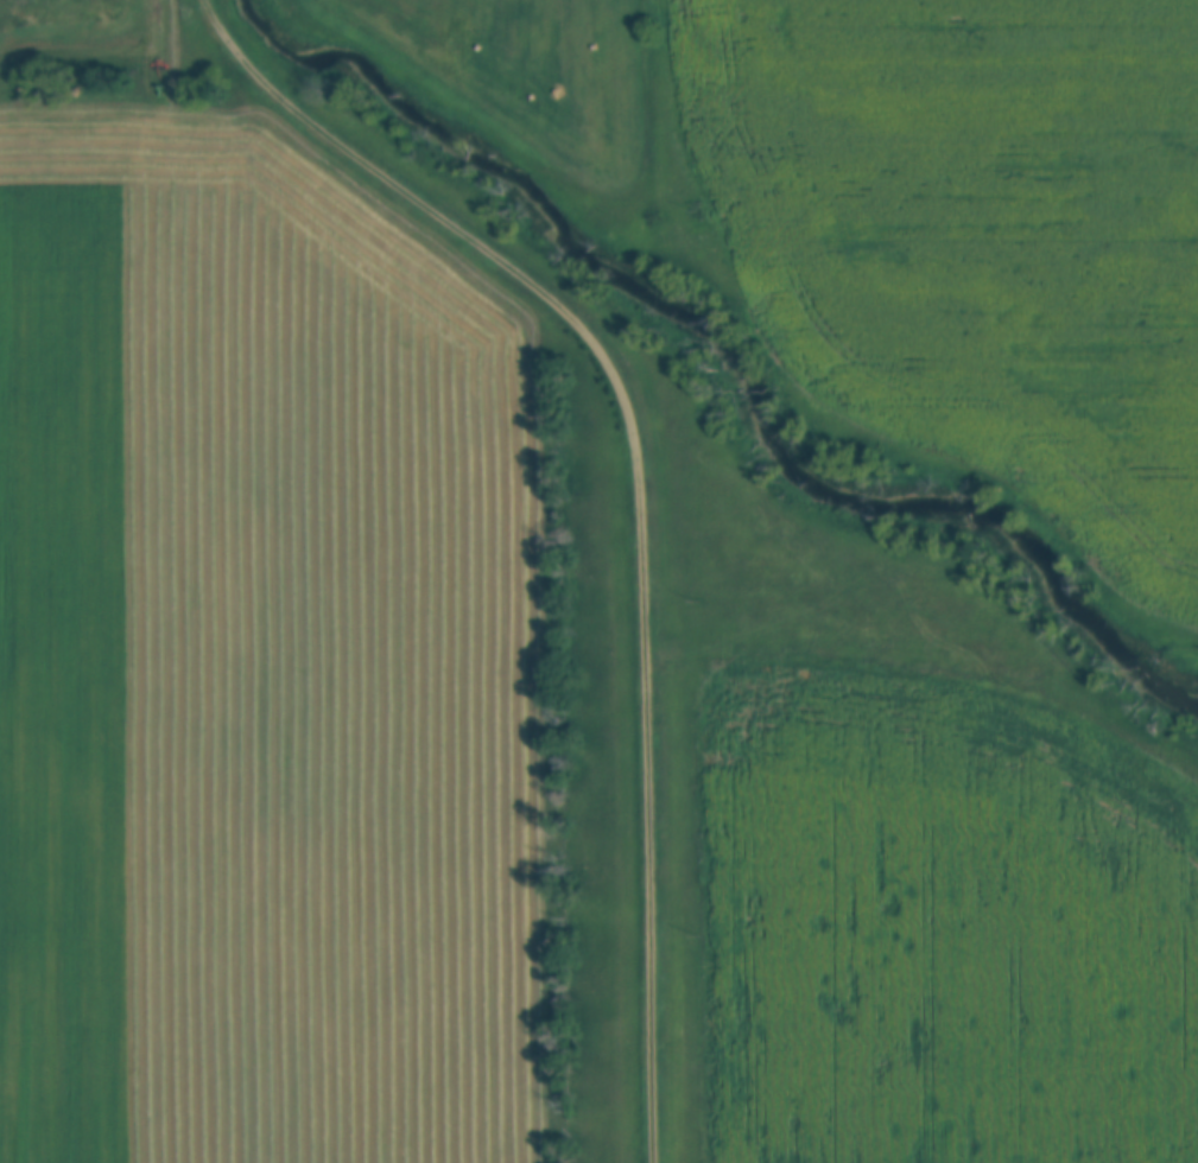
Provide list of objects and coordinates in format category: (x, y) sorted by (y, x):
road: (636, 485)

